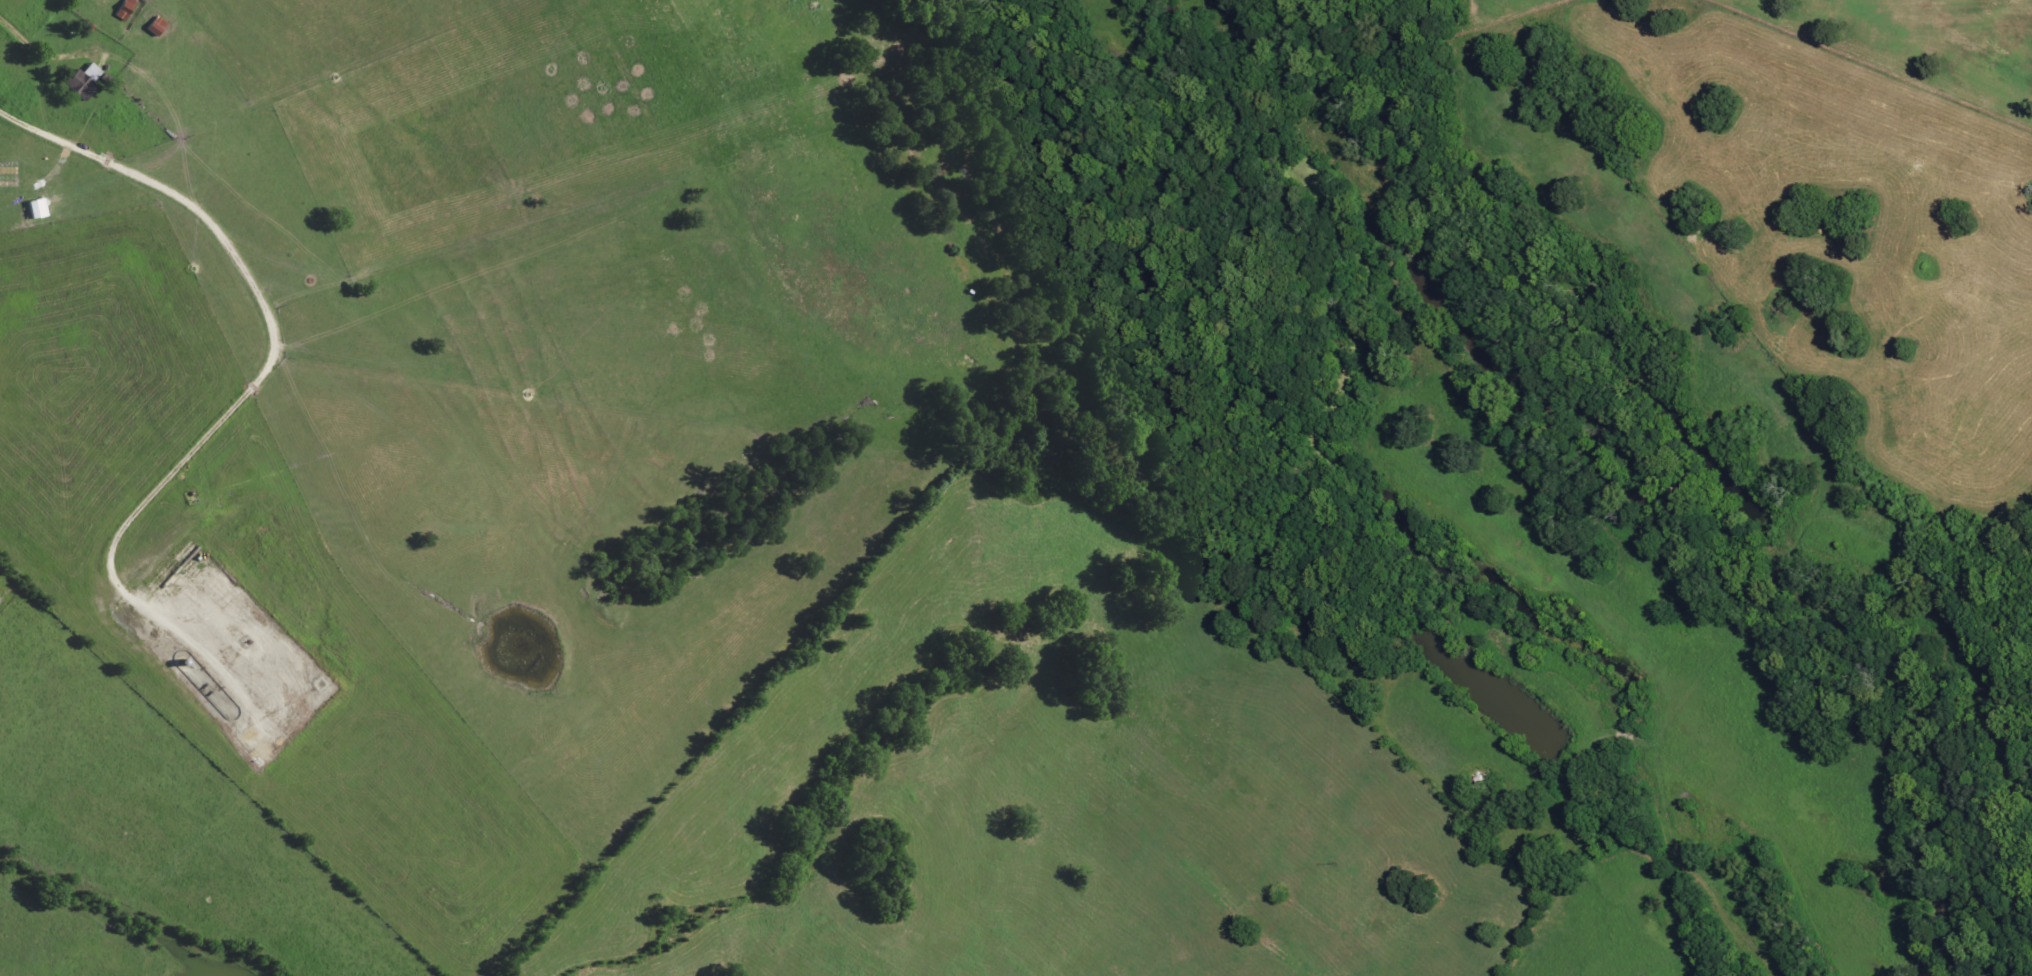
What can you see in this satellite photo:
building: (124, 14)
building: (158, 27)
building: (85, 83)
building: (39, 209)

